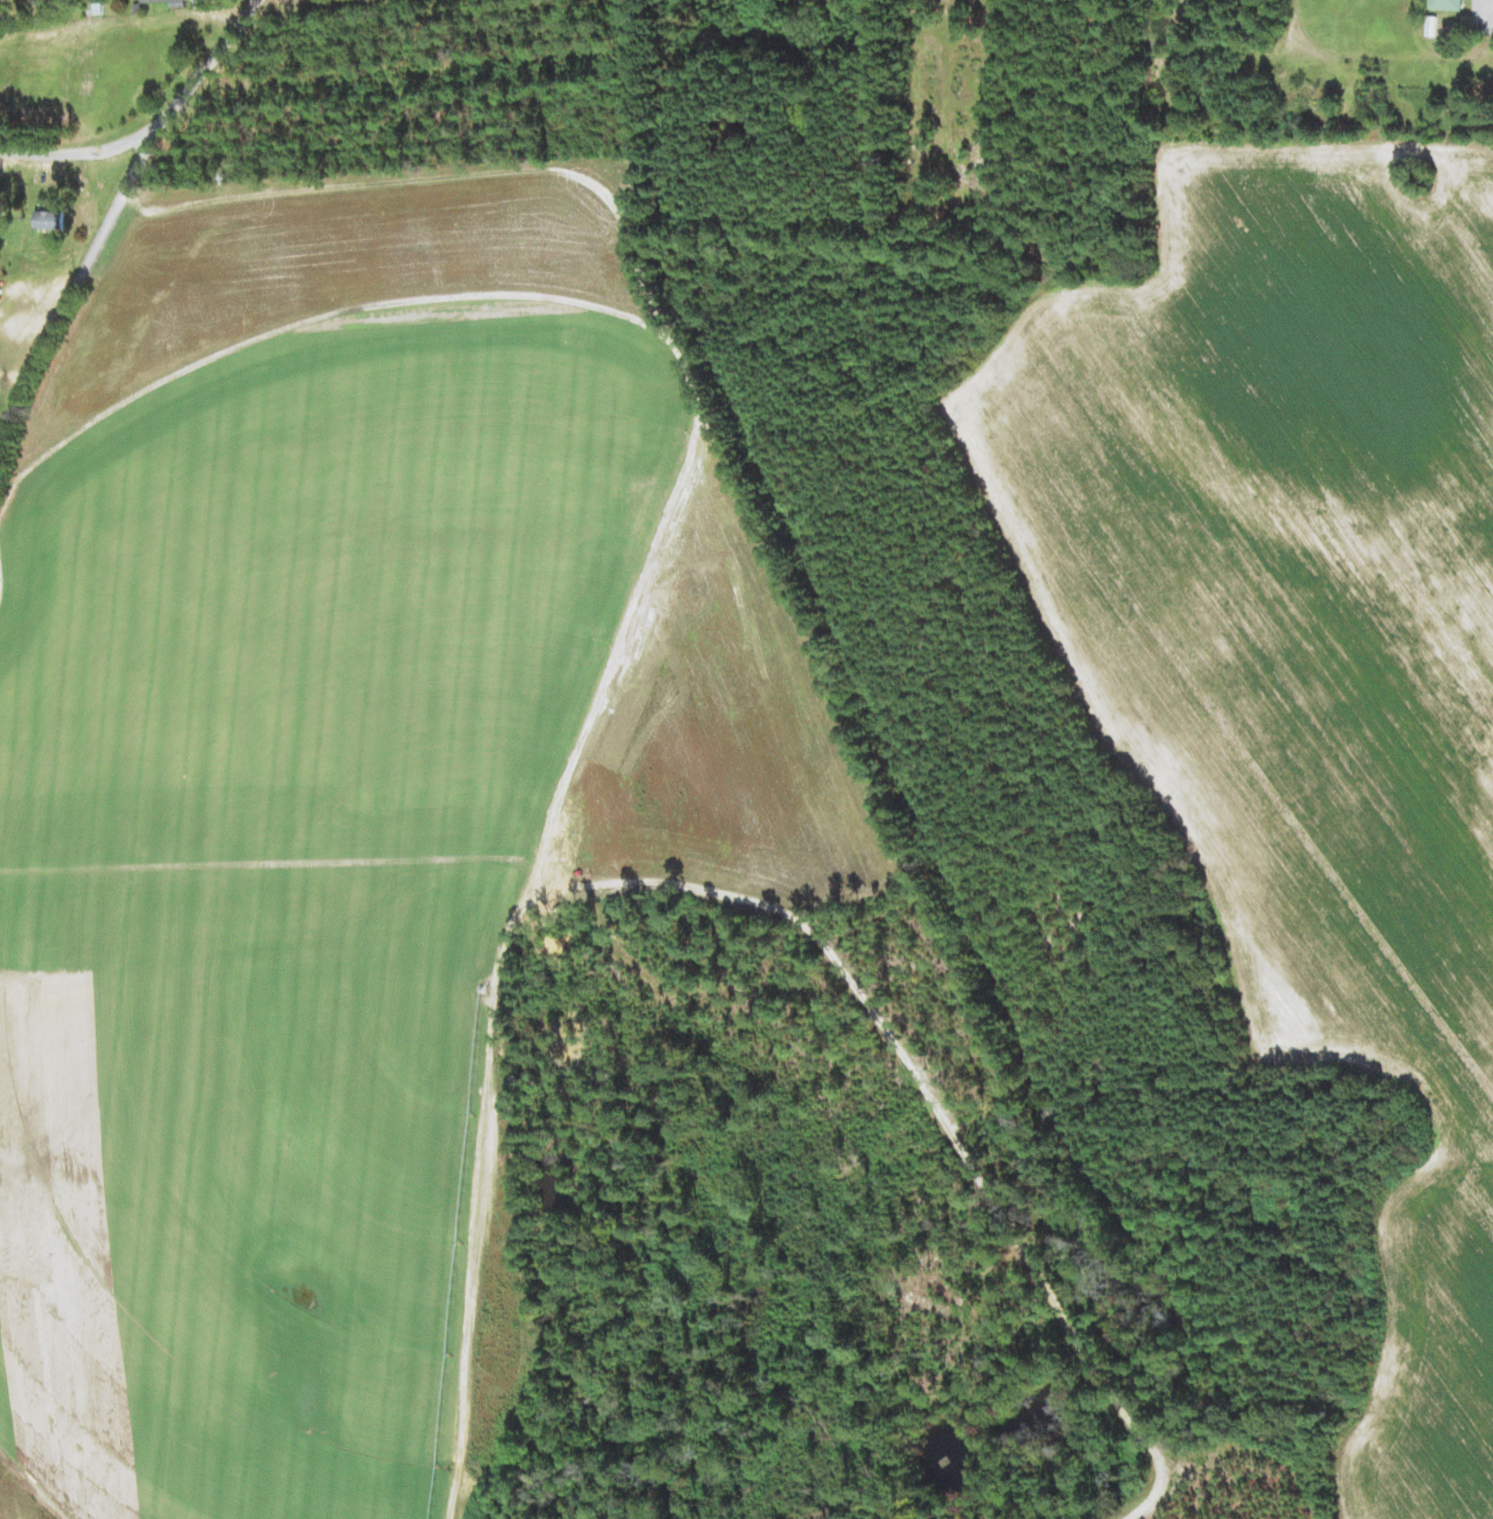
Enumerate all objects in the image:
building: (1447, 4)
building: (98, 6)
road: (74, 154)
road: (111, 218)
building: (49, 219)

